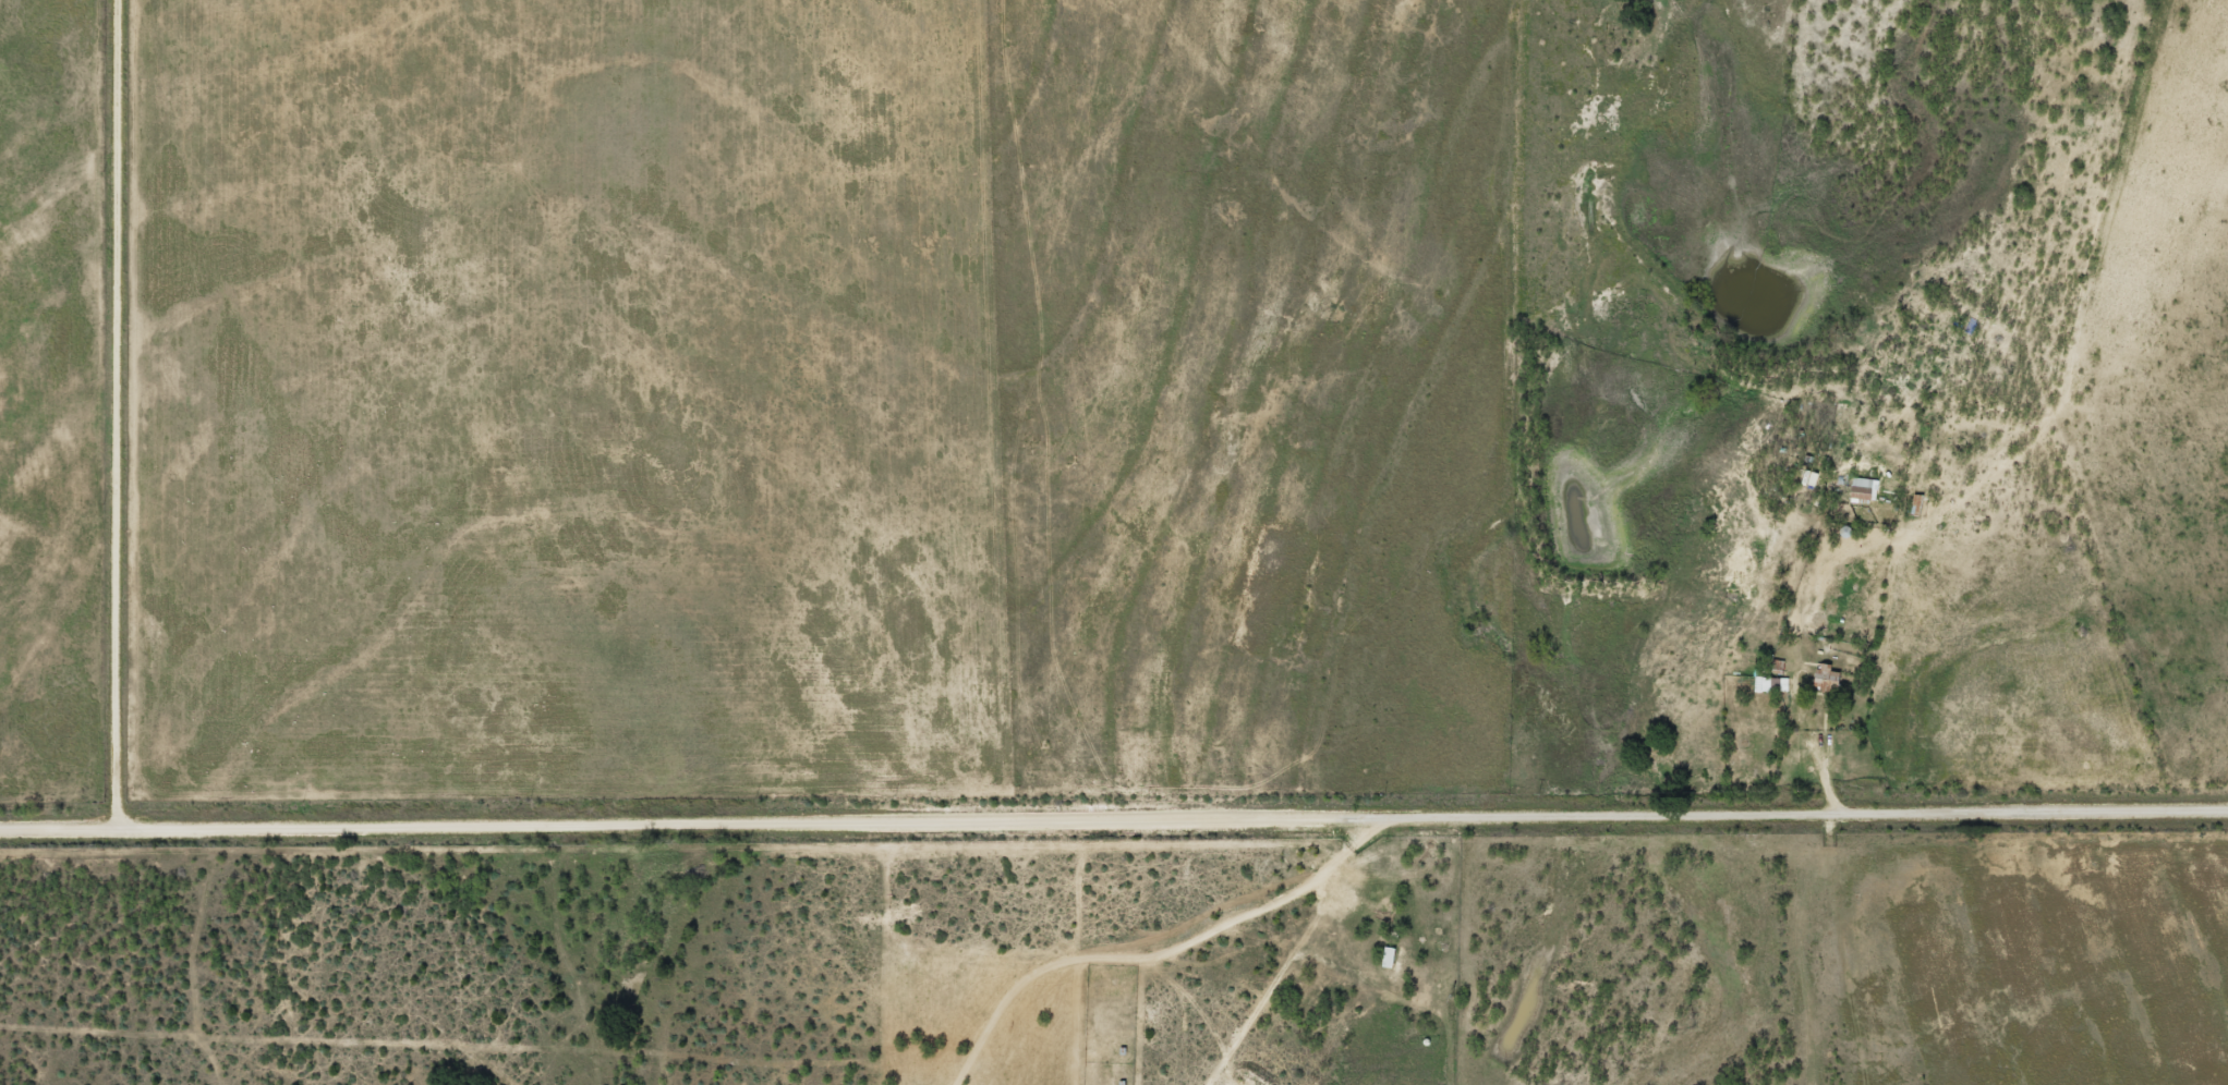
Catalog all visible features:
road: (126, 415)
building: (1910, 504)
building: (1816, 679)
building: (1761, 684)
road: (1114, 821)

